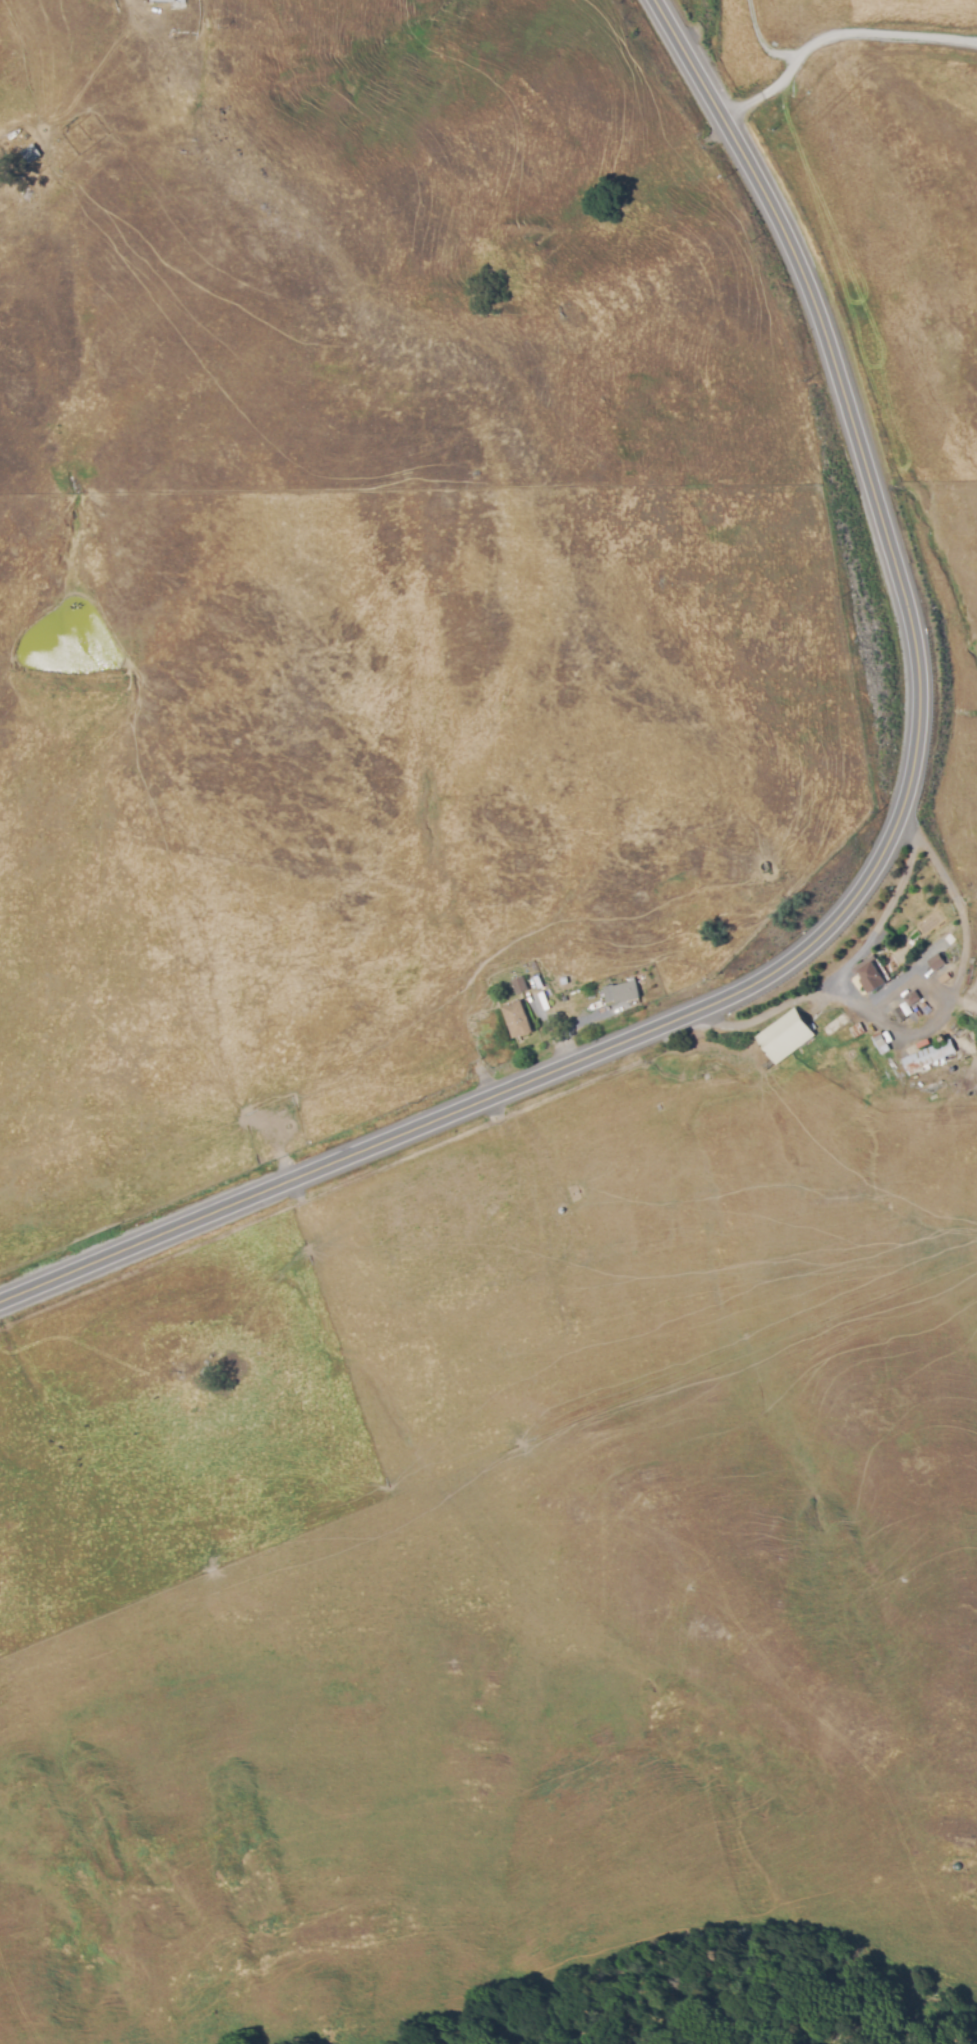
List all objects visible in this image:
building: (171, 2)
road: (882, 33)
road: (759, 41)
road: (765, 93)
building: (32, 155)
building: (28, 194)
road: (934, 853)
road: (864, 892)
road: (882, 919)
building: (937, 963)
building: (871, 978)
road: (905, 983)
building: (519, 986)
building: (626, 993)
building: (912, 999)
building: (899, 1015)
building: (517, 1020)
road: (884, 1021)
building: (858, 1031)
building: (786, 1037)
building: (882, 1044)
building: (929, 1057)

